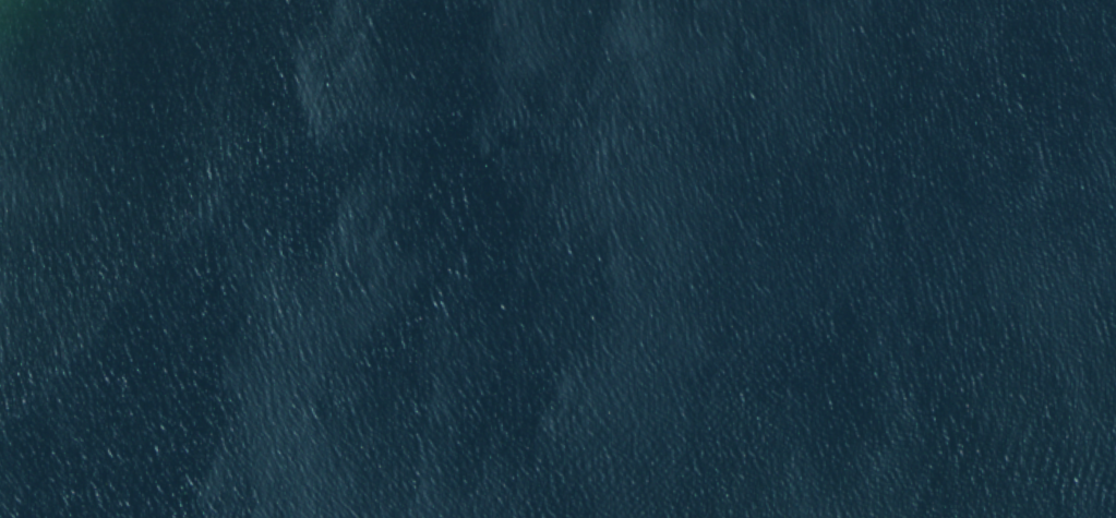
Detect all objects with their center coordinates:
river: (950, 375)

